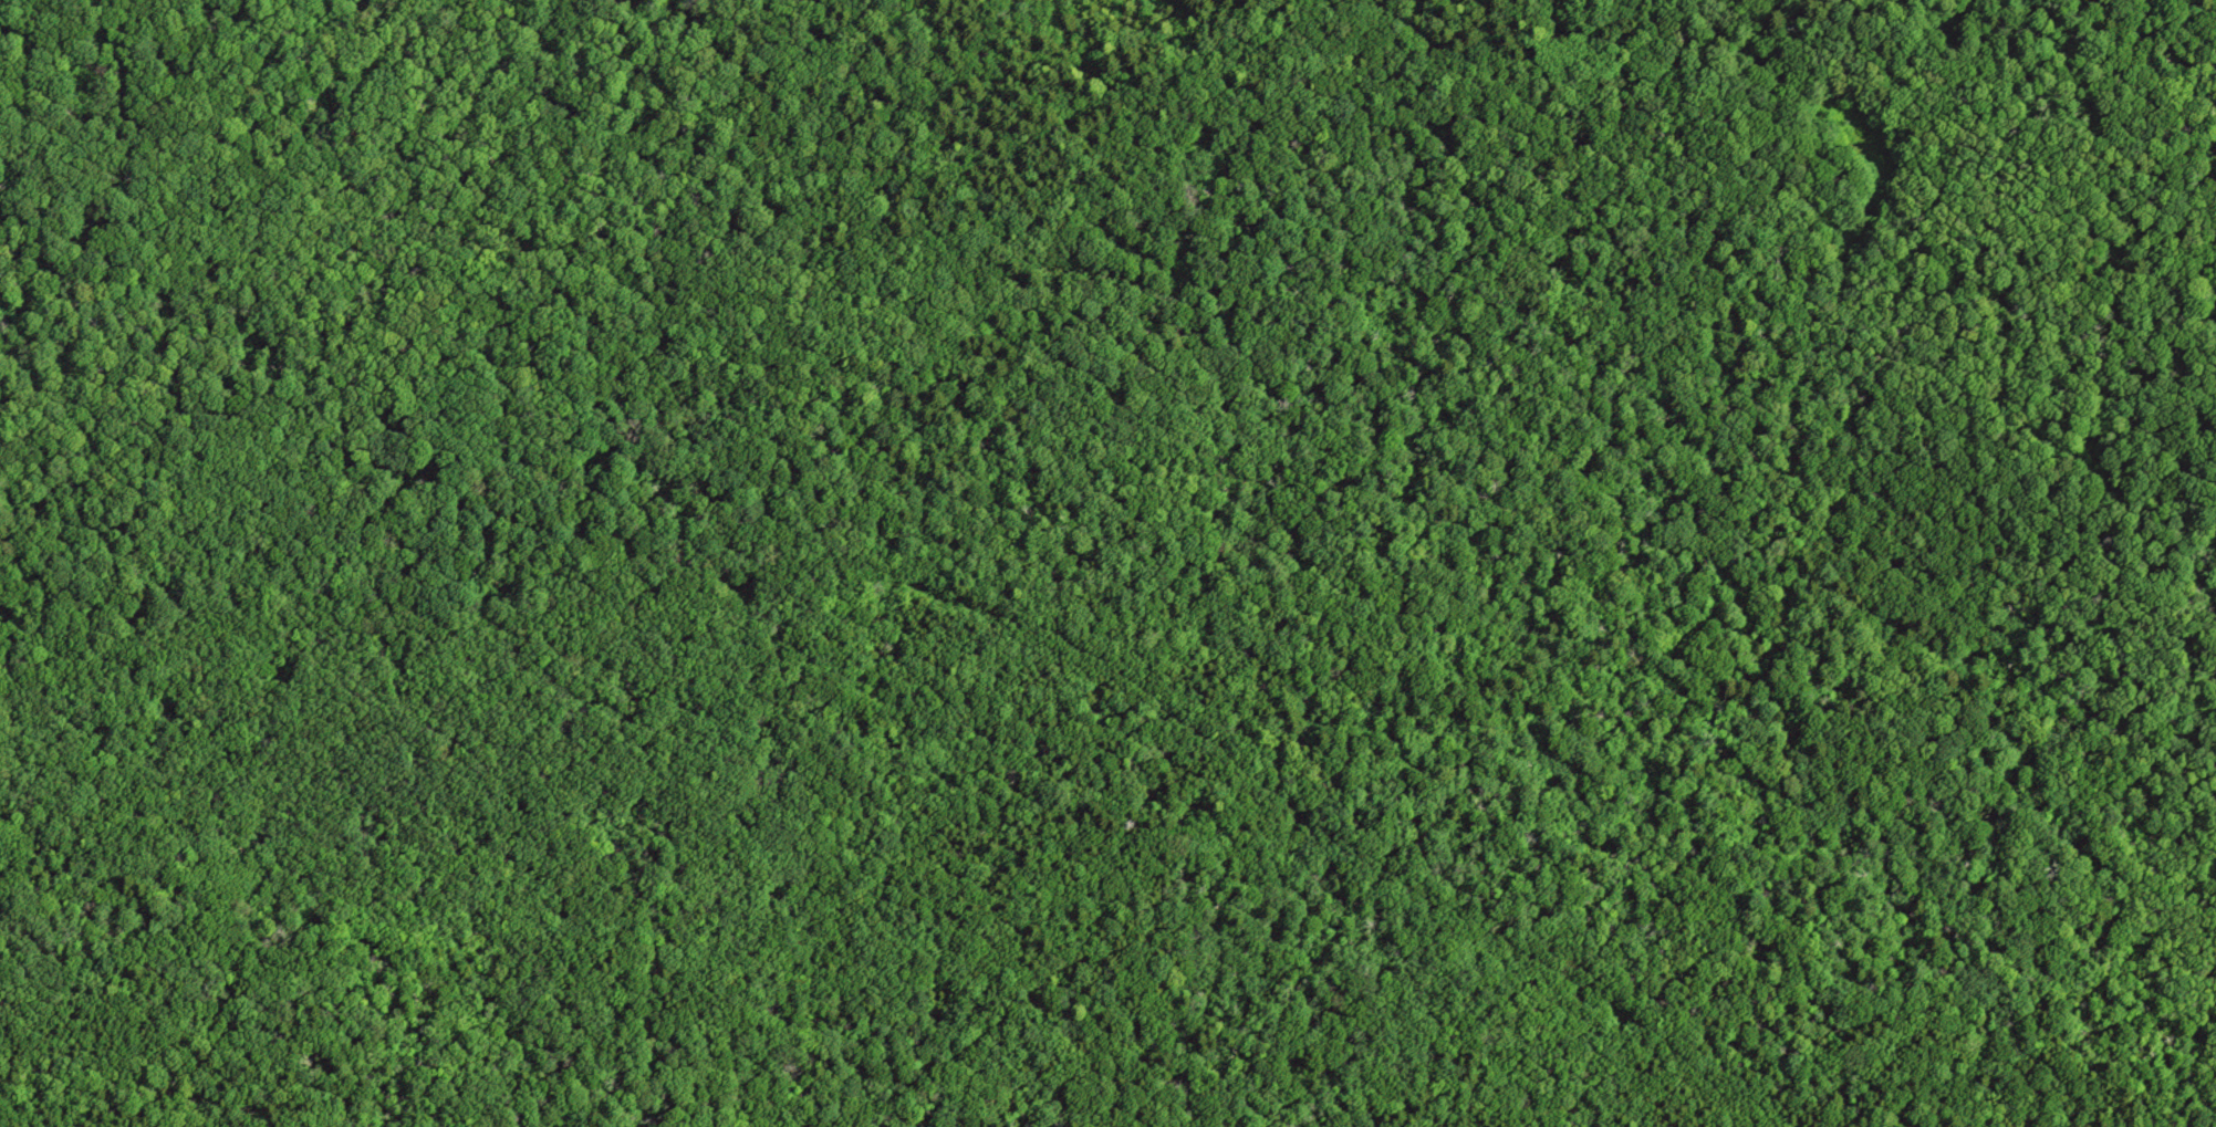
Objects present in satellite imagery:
road: (954, 591)
road: (1932, 766)

